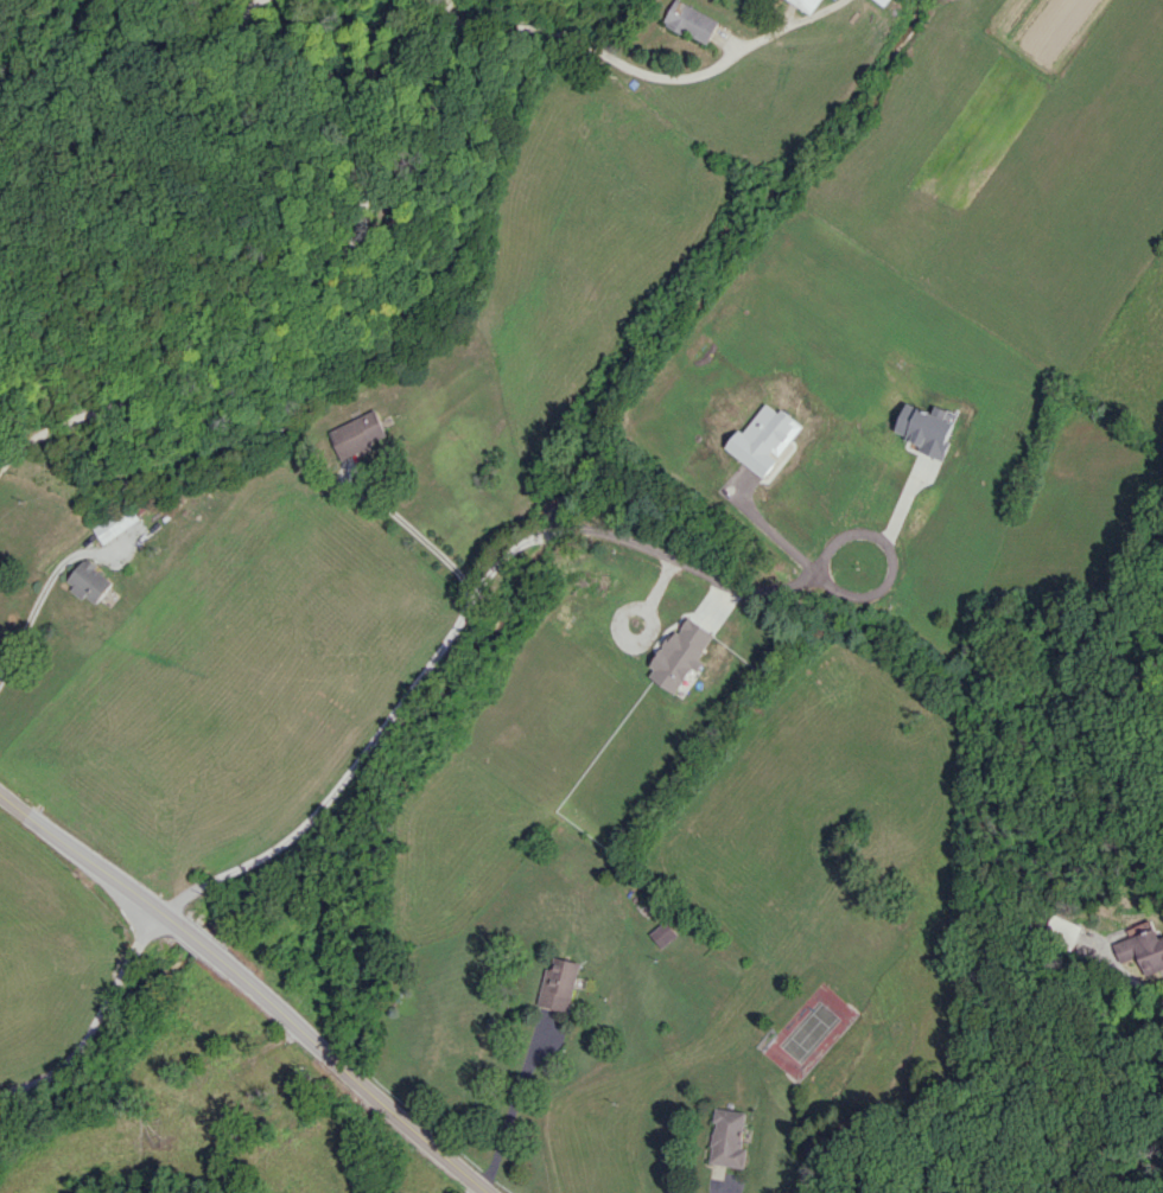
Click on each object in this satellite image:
building: (883, 1)
building: (807, 4)
building: (692, 21)
road: (642, 71)
road: (310, 288)
building: (926, 429)
building: (357, 433)
road: (895, 518)
building: (114, 523)
road: (774, 535)
road: (428, 542)
building: (89, 581)
road: (40, 594)
road: (470, 605)
building: (663, 933)
building: (1143, 950)
road: (233, 969)
building: (560, 983)
road: (100, 1023)
road: (511, 1112)
building: (727, 1138)
road: (472, 1176)
road: (729, 1186)
road: (490, 1192)

